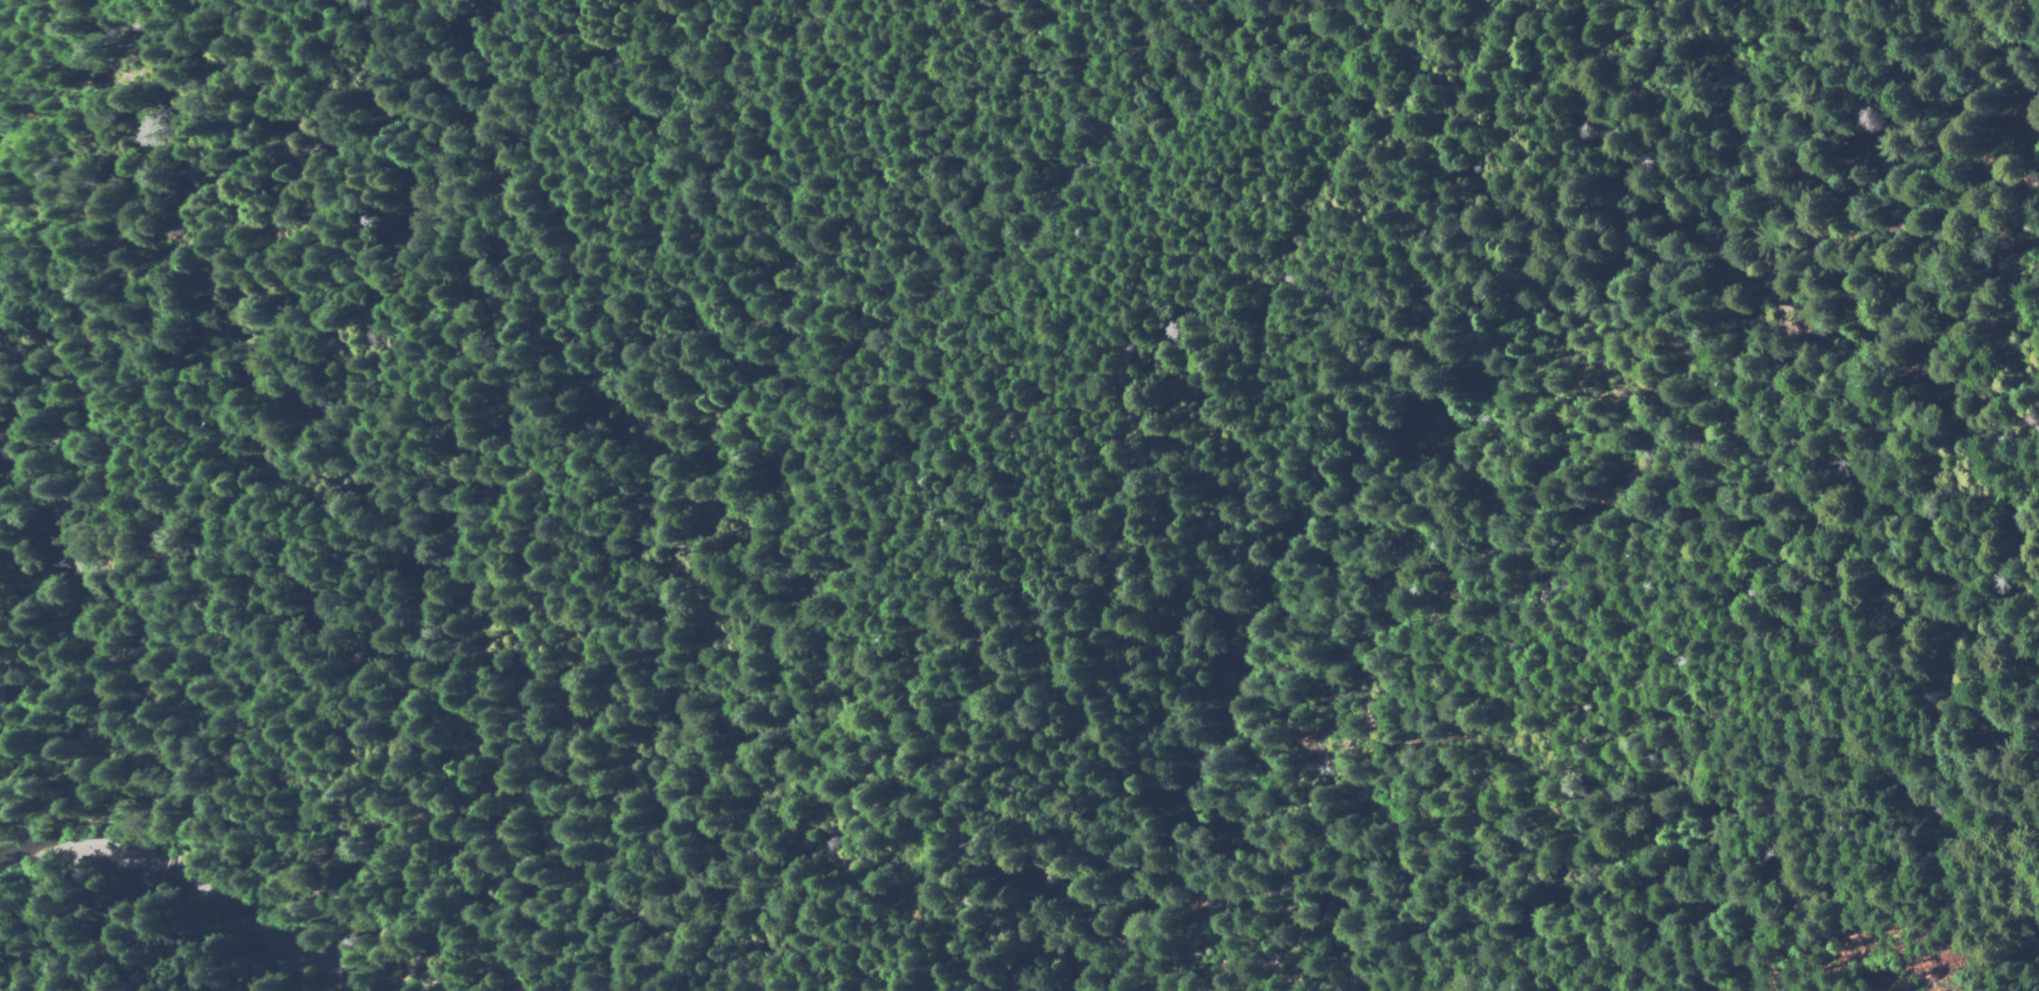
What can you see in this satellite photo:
river: (170, 892)

